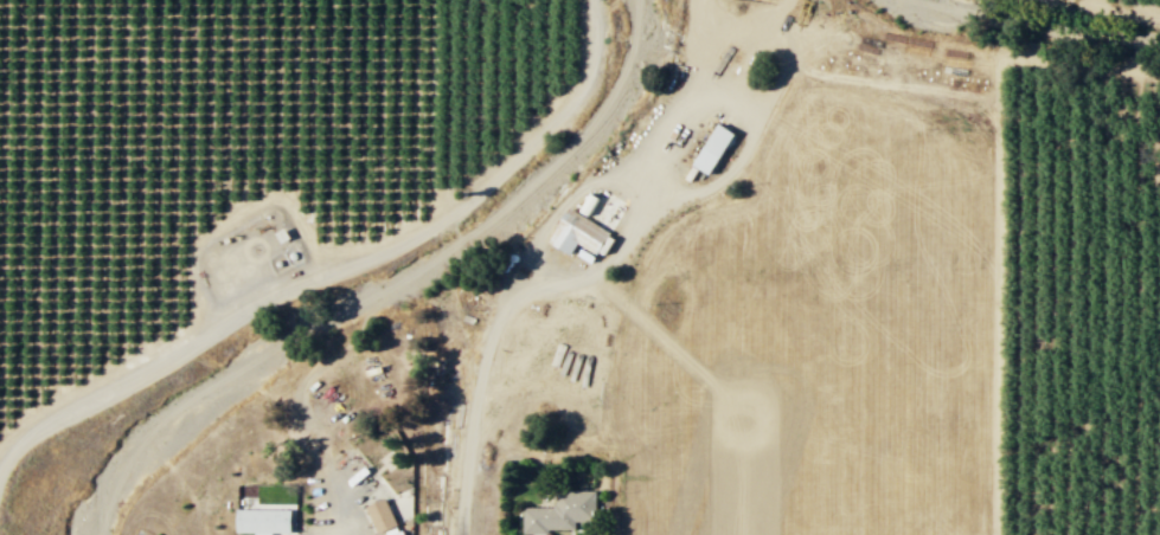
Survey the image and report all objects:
road: (1115, 7)
road: (437, 107)
building: (712, 148)
road: (998, 218)
building: (579, 234)
road: (344, 269)
road: (483, 366)
road: (314, 475)
building: (559, 513)
building: (380, 515)
building: (262, 521)

